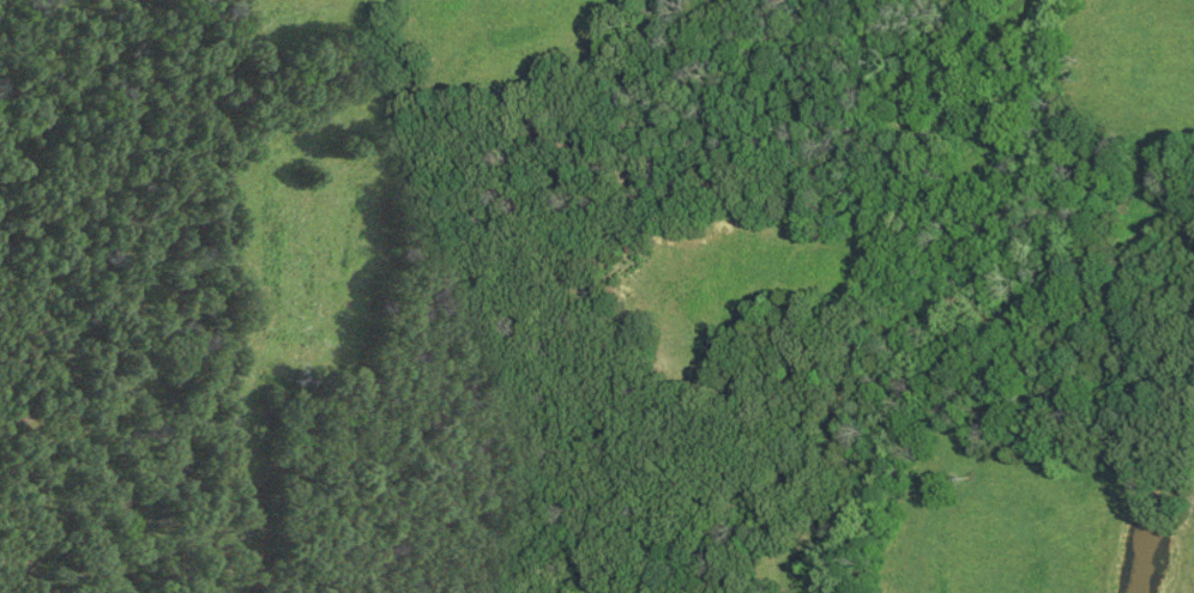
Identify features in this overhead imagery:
building: (934, 91)

